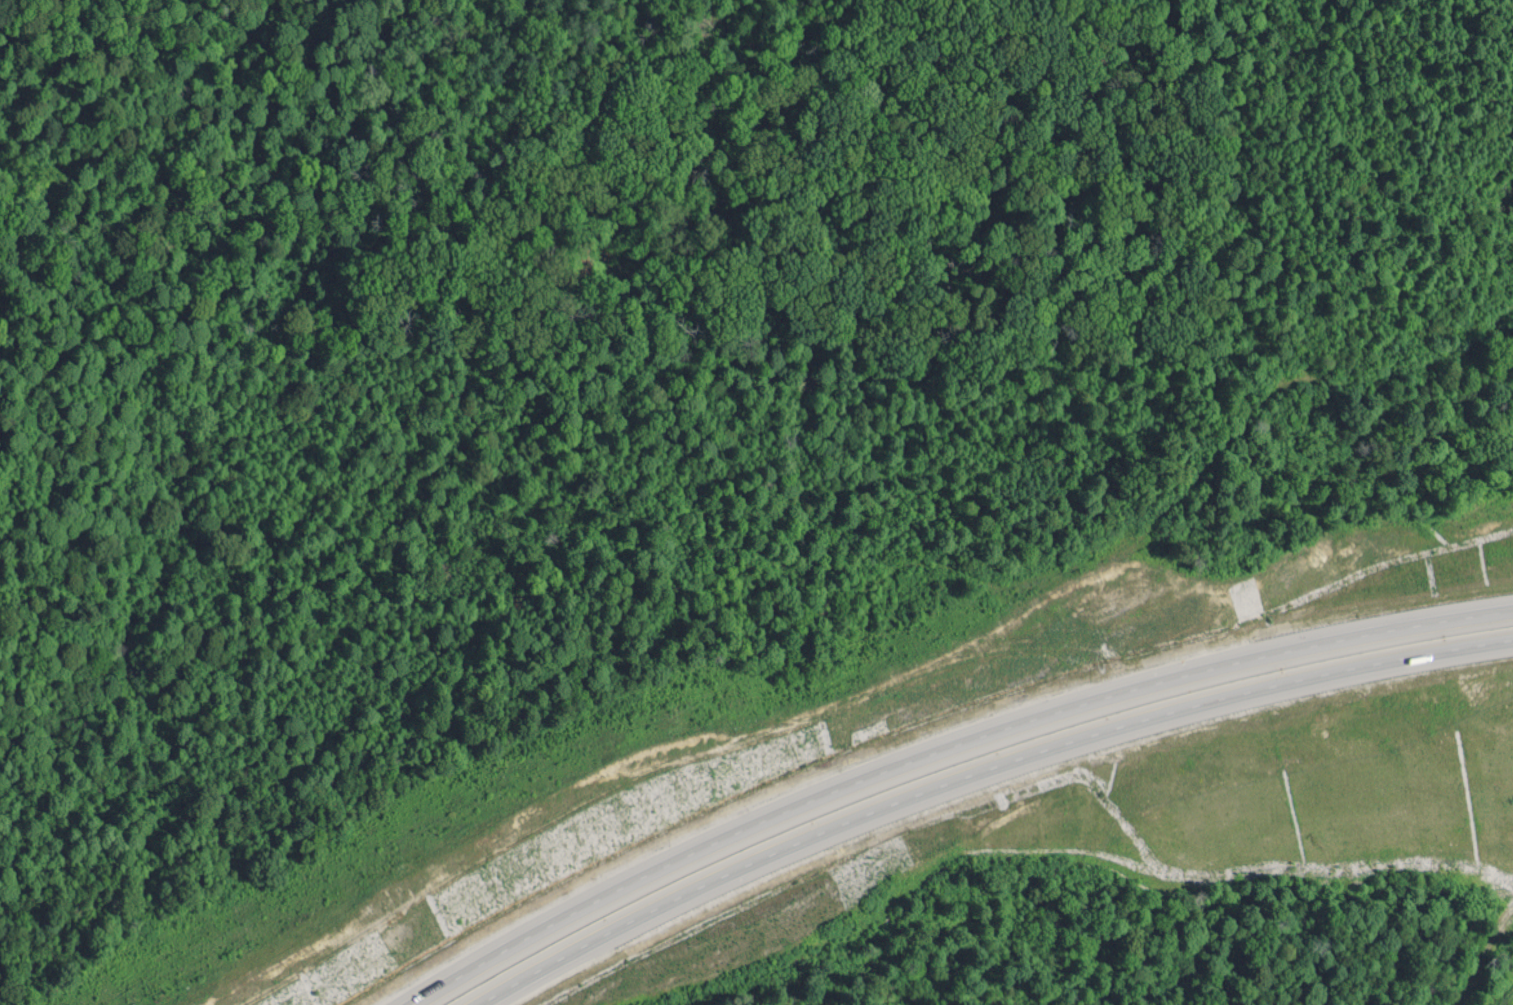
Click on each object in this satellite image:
road: (949, 754)
road: (982, 771)
road: (1487, 970)

